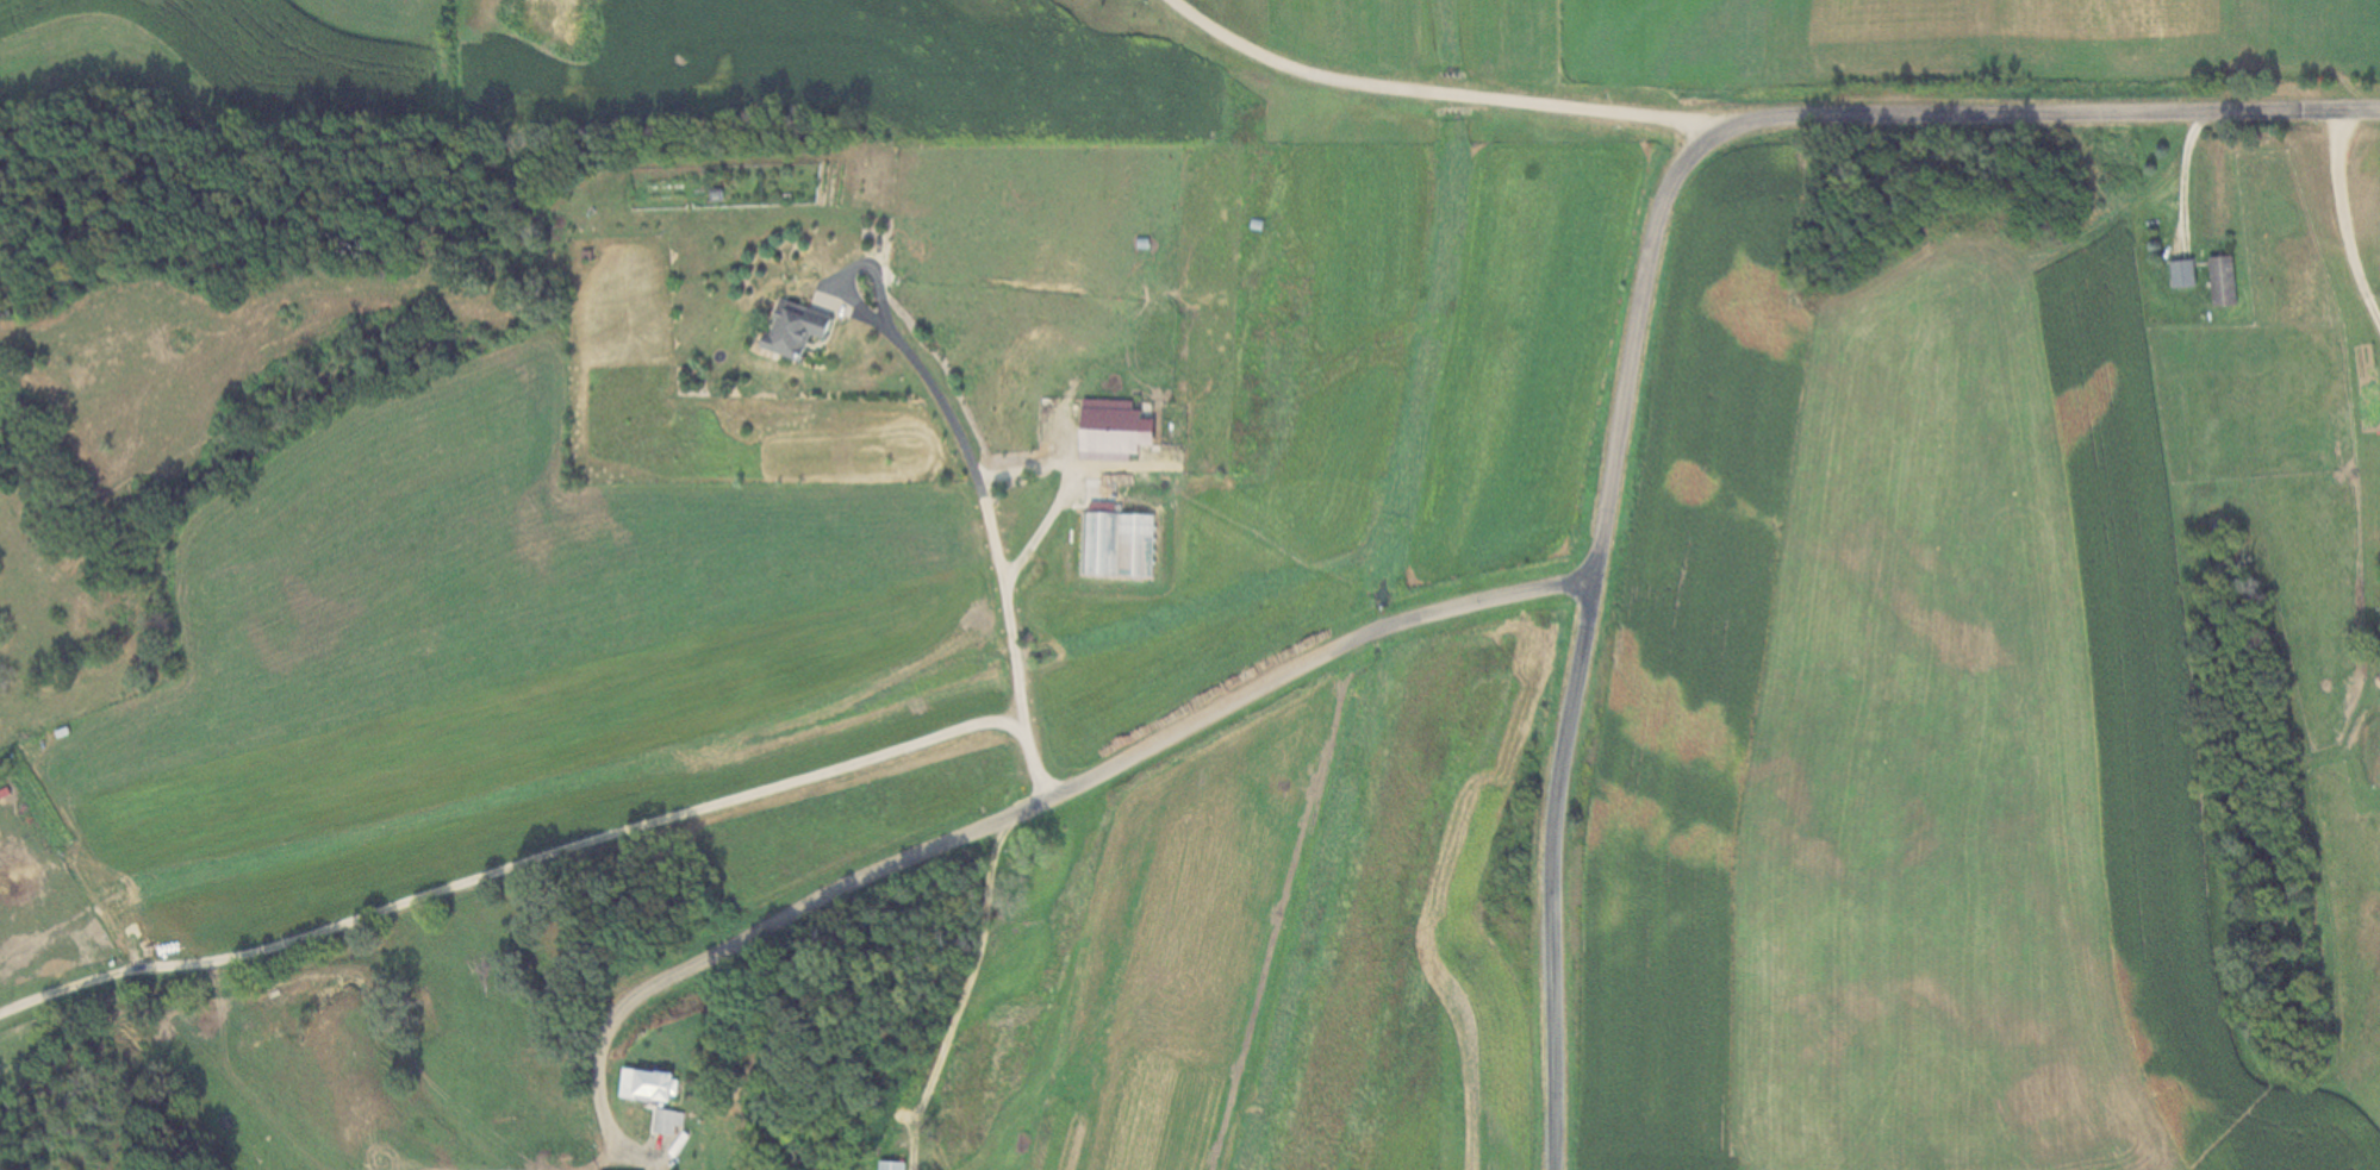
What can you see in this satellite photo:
road: (1429, 92)
road: (2337, 233)
building: (2187, 274)
building: (2226, 281)
road: (1637, 307)
building: (803, 329)
road: (891, 338)
building: (1119, 431)
road: (987, 528)
road: (1029, 802)
road: (512, 865)
building: (656, 1083)
building: (893, 1164)

